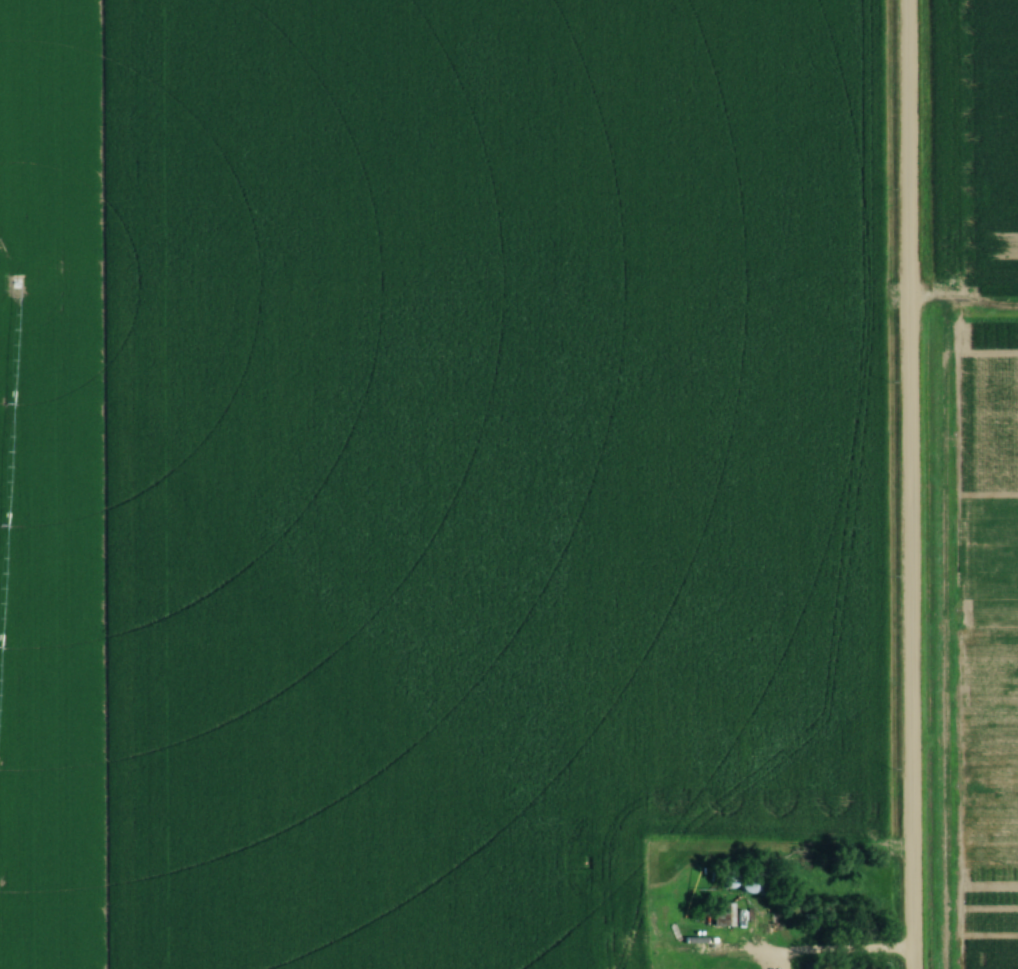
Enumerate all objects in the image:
road: (908, 484)
building: (749, 884)
building: (721, 916)
building: (812, 922)
road: (835, 952)

